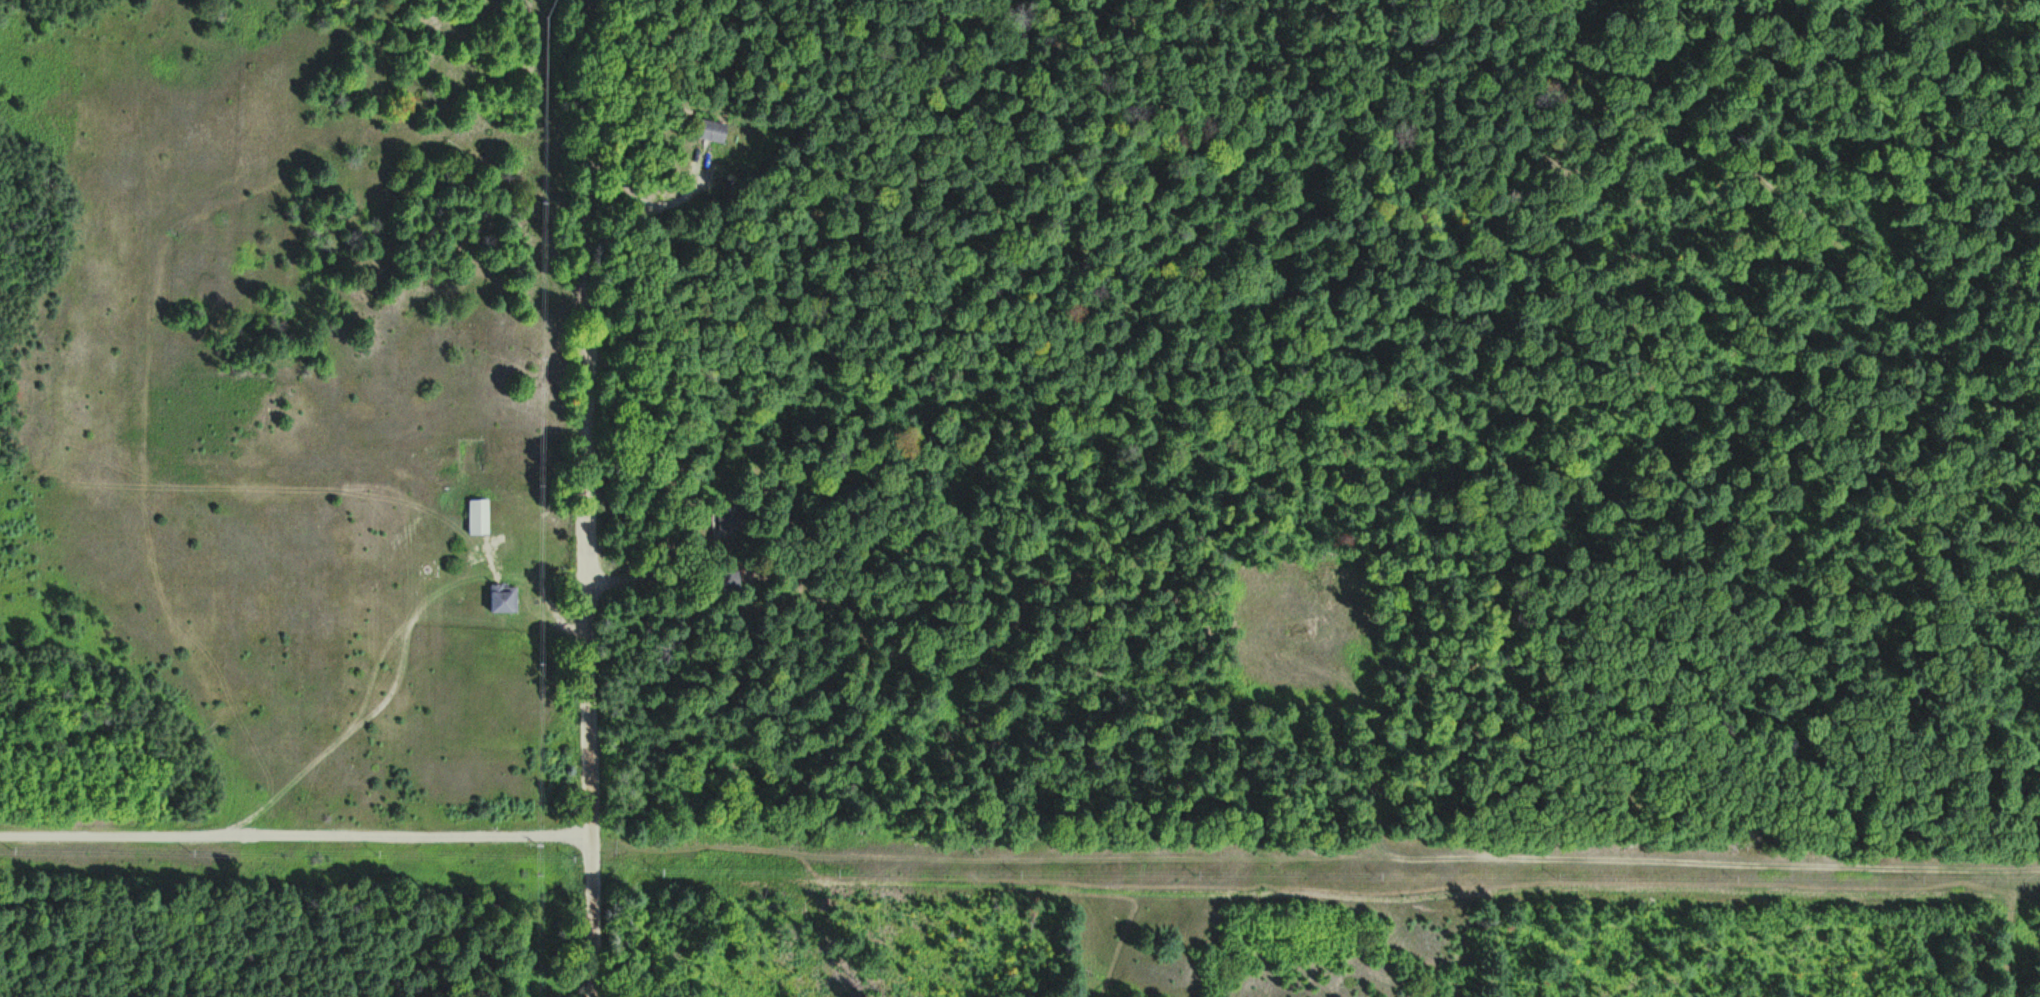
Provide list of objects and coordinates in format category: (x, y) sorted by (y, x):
building: (711, 131)
road: (1797, 219)
road: (612, 498)
building: (482, 517)
building: (720, 517)
building: (507, 599)

